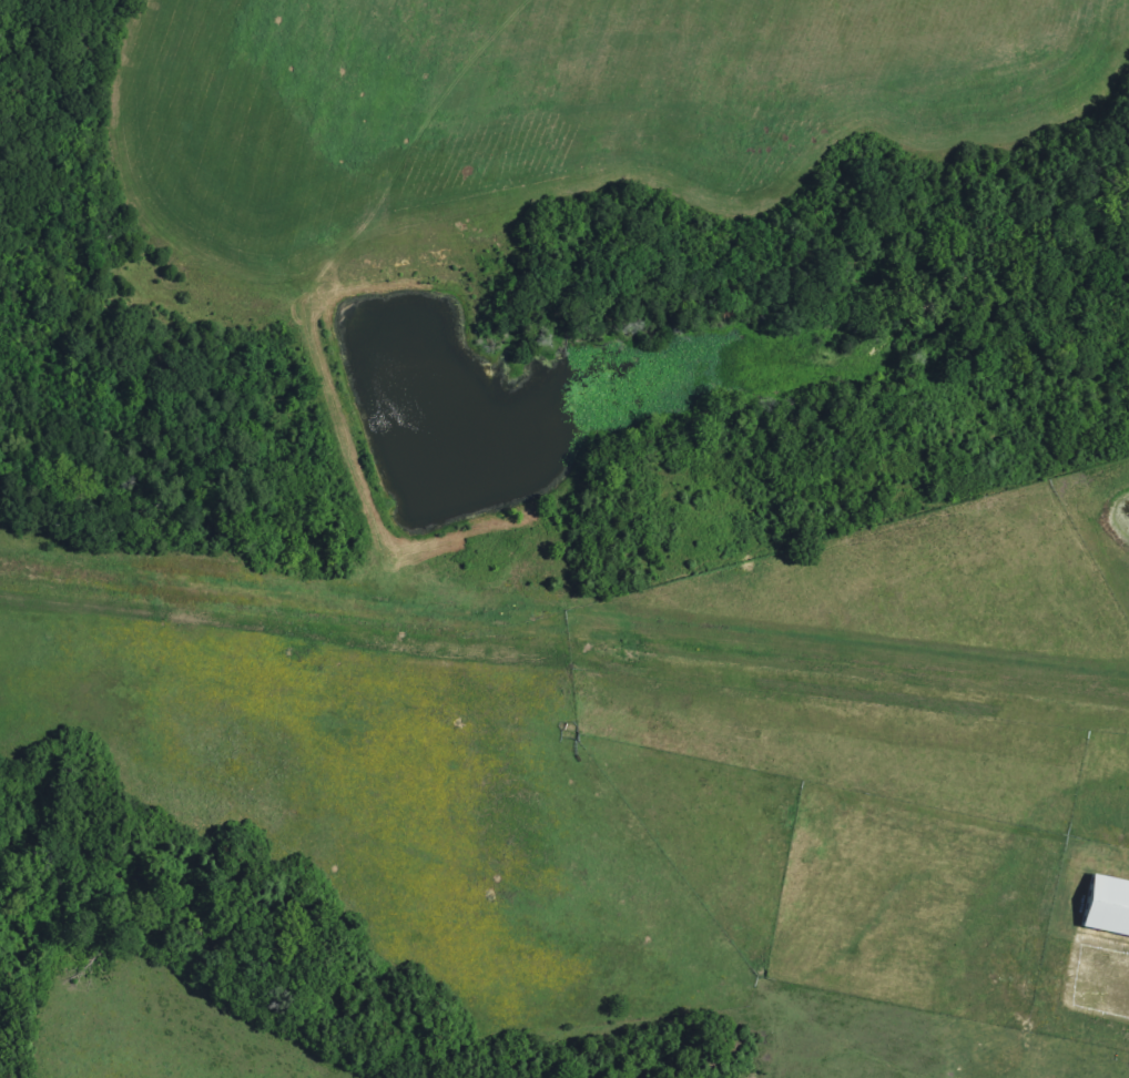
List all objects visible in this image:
building: (1109, 908)

